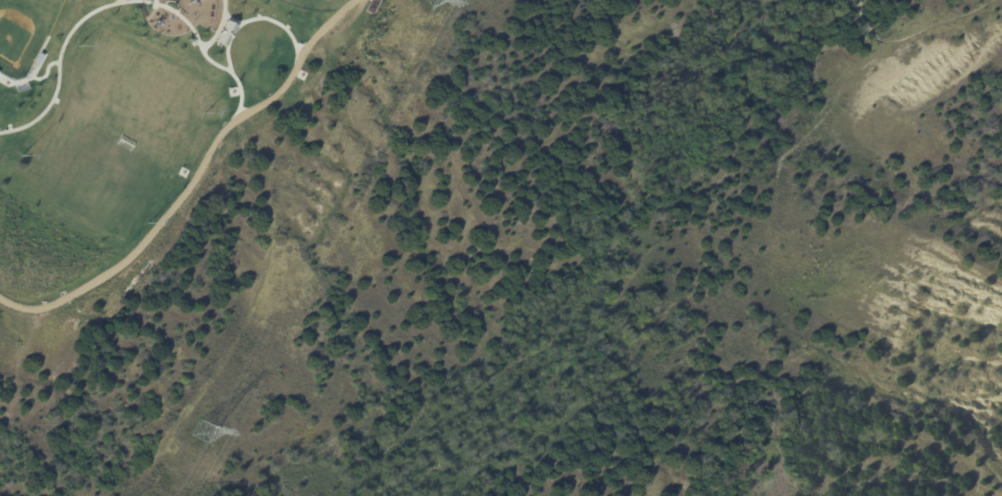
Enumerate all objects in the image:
park: (23, 30)
park: (119, 128)
park: (283, 216)
power tower: (208, 431)

